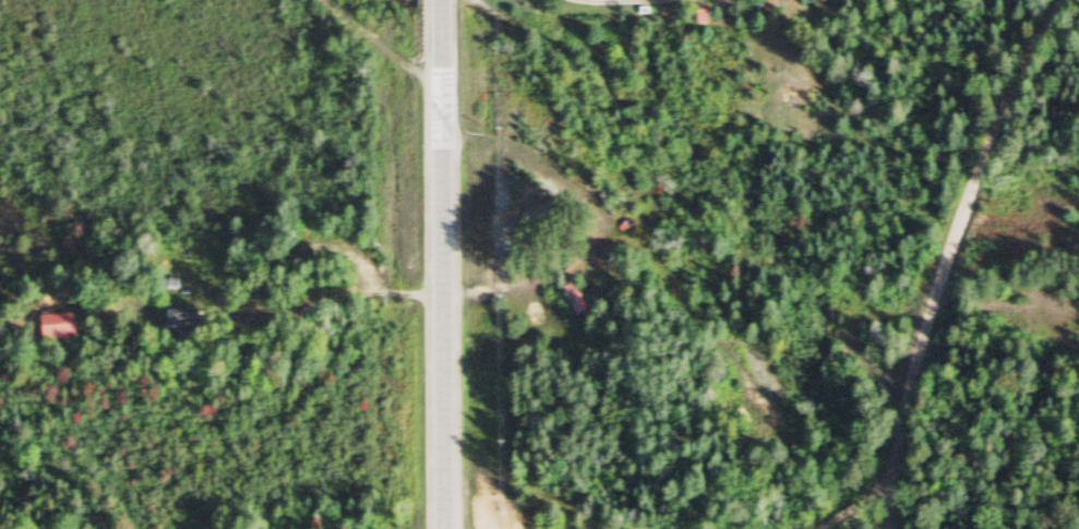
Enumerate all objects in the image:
road: (947, 249)
road: (440, 264)
building: (571, 300)
building: (177, 324)
building: (53, 328)
road: (844, 514)
road: (822, 525)

